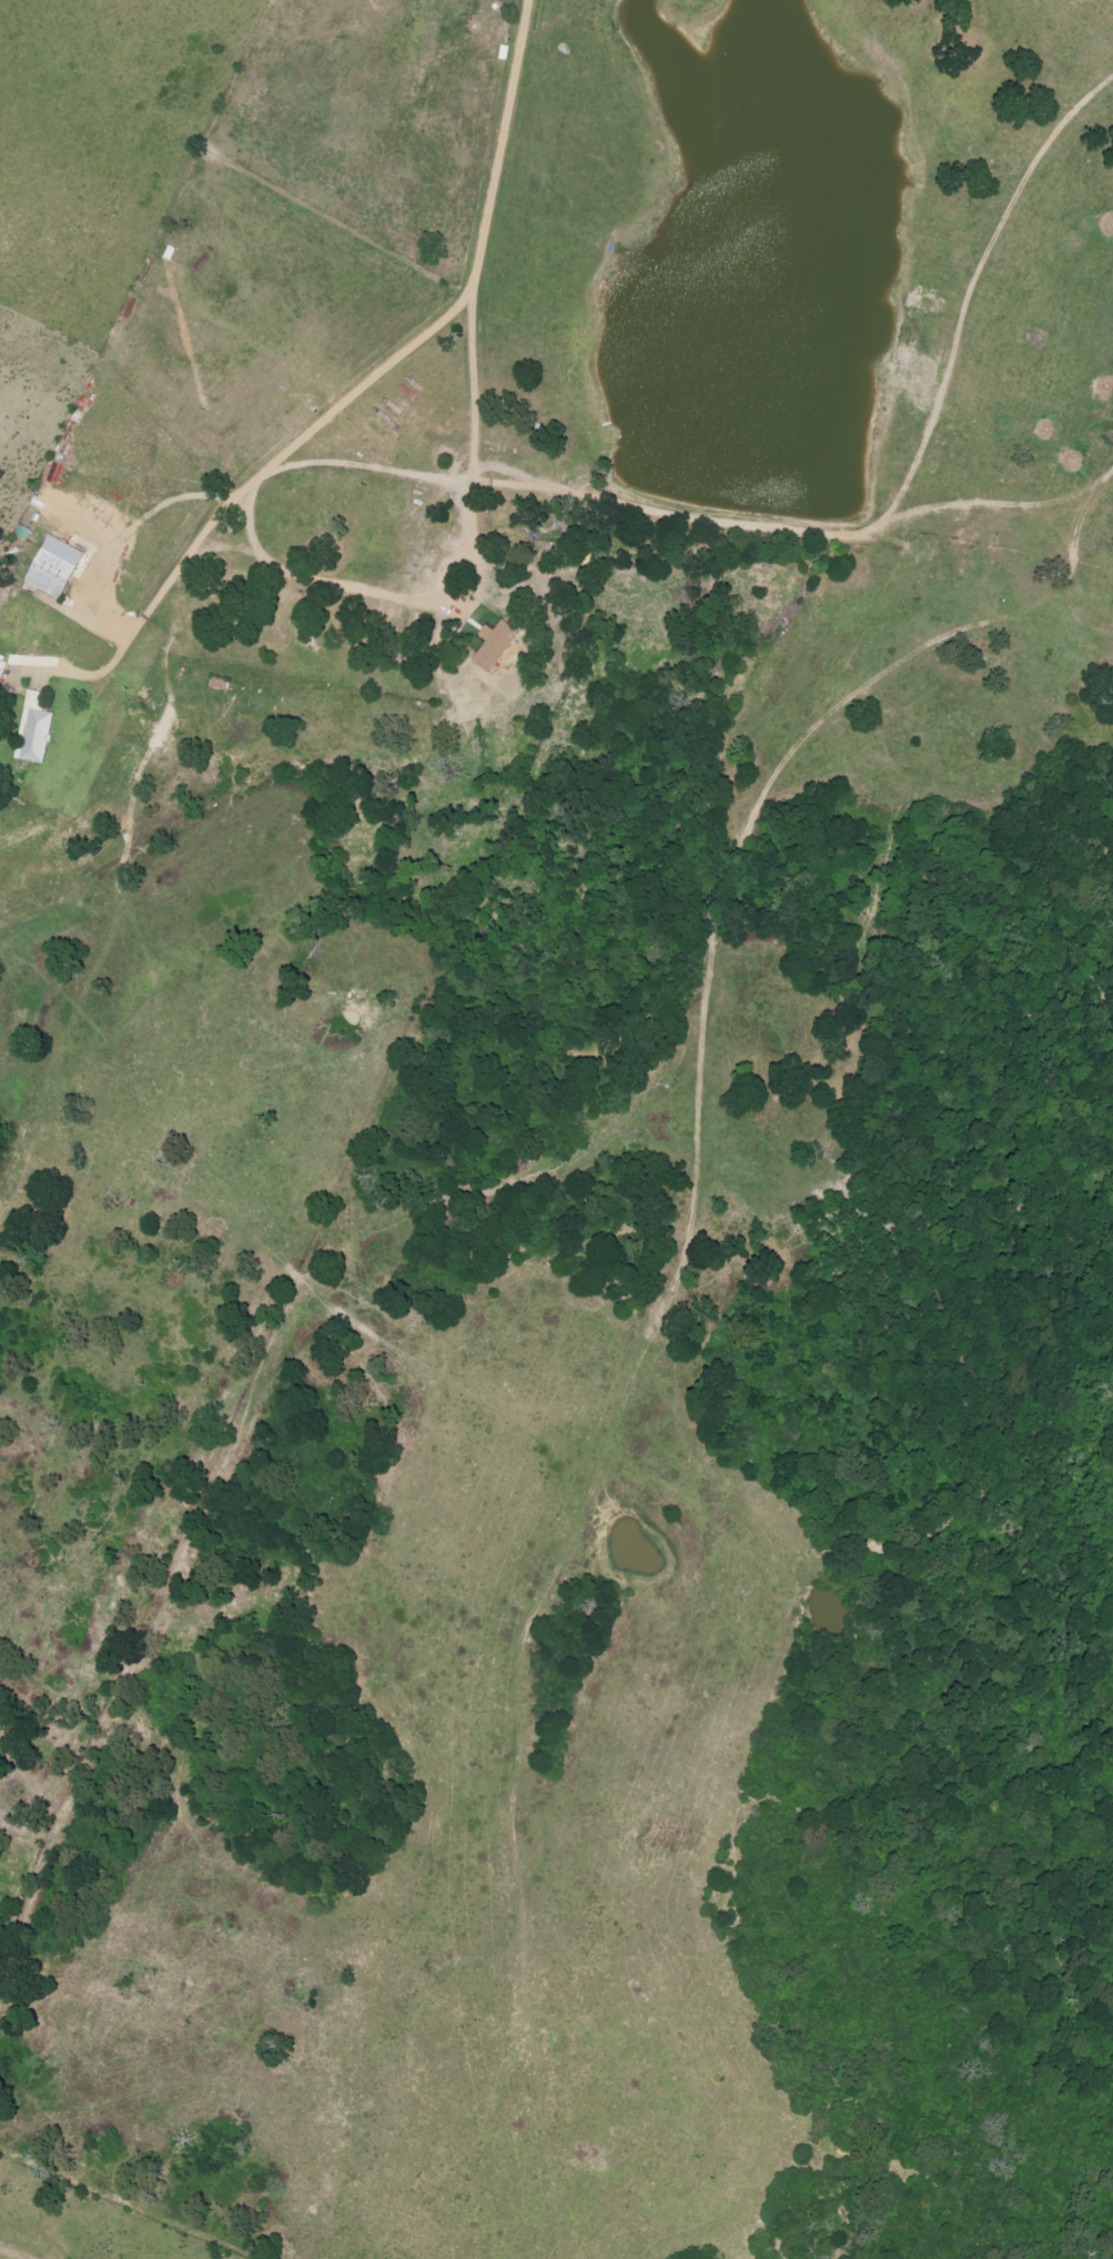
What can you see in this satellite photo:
road: (476, 381)
road: (360, 393)
road: (463, 567)
building: (53, 568)
building: (494, 646)
building: (1, 672)
building: (36, 733)

